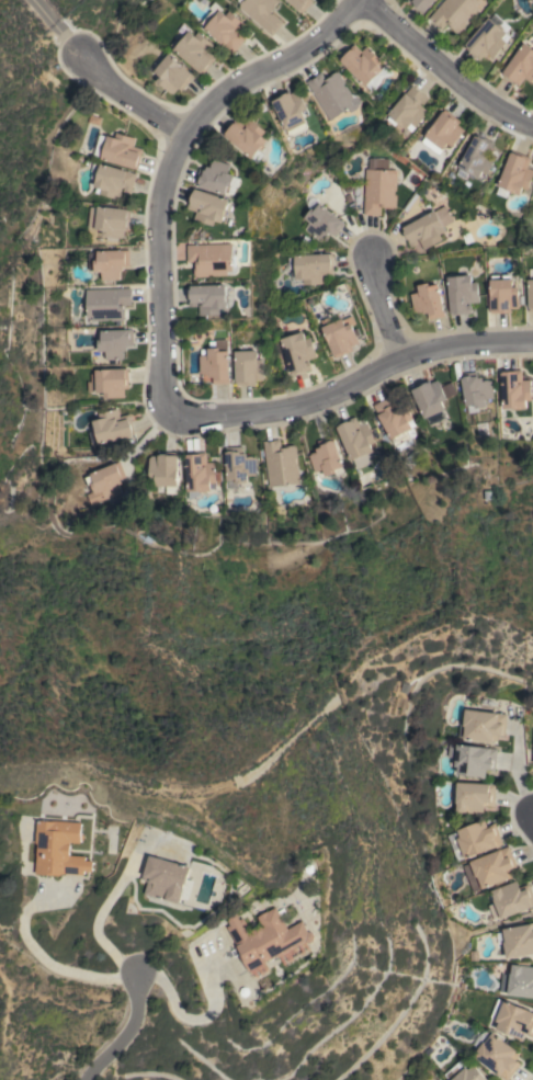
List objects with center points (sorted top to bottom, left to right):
building: (300, 4)
building: (421, 4)
building: (261, 13)
building: (454, 13)
building: (224, 26)
road: (55, 30)
building: (486, 39)
building: (195, 50)
building: (362, 64)
building: (521, 66)
road: (445, 69)
building: (172, 73)
building: (333, 94)
road: (132, 96)
building: (409, 109)
building: (292, 111)
building: (442, 133)
building: (247, 137)
building: (117, 149)
building: (477, 156)
road: (180, 157)
building: (514, 174)
building: (216, 177)
building: (113, 180)
building: (378, 186)
building: (208, 206)
building: (109, 220)
building: (321, 221)
building: (426, 229)
building: (212, 259)
building: (107, 262)
building: (313, 268)
building: (530, 289)
building: (462, 293)
building: (502, 295)
building: (208, 297)
building: (426, 302)
building: (107, 303)
road: (389, 309)
building: (340, 337)
building: (115, 342)
building: (297, 352)
building: (215, 363)
building: (248, 366)
building: (109, 382)
road: (351, 388)
building: (514, 389)
building: (475, 390)
building: (431, 396)
building: (395, 418)
building: (110, 427)
building: (354, 437)
building: (326, 457)
building: (280, 463)
building: (238, 464)
building: (163, 470)
building: (199, 474)
building: (103, 482)
building: (481, 726)
building: (472, 759)
road: (515, 773)
building: (474, 796)
road: (532, 819)
building: (478, 838)
building: (58, 848)
building: (490, 868)
building: (166, 879)
building: (510, 899)
road: (102, 908)
building: (266, 936)
building: (519, 940)
road: (42, 960)
building: (518, 980)
road: (191, 1019)
building: (512, 1019)
road: (125, 1031)
building: (496, 1055)
building: (469, 1075)

